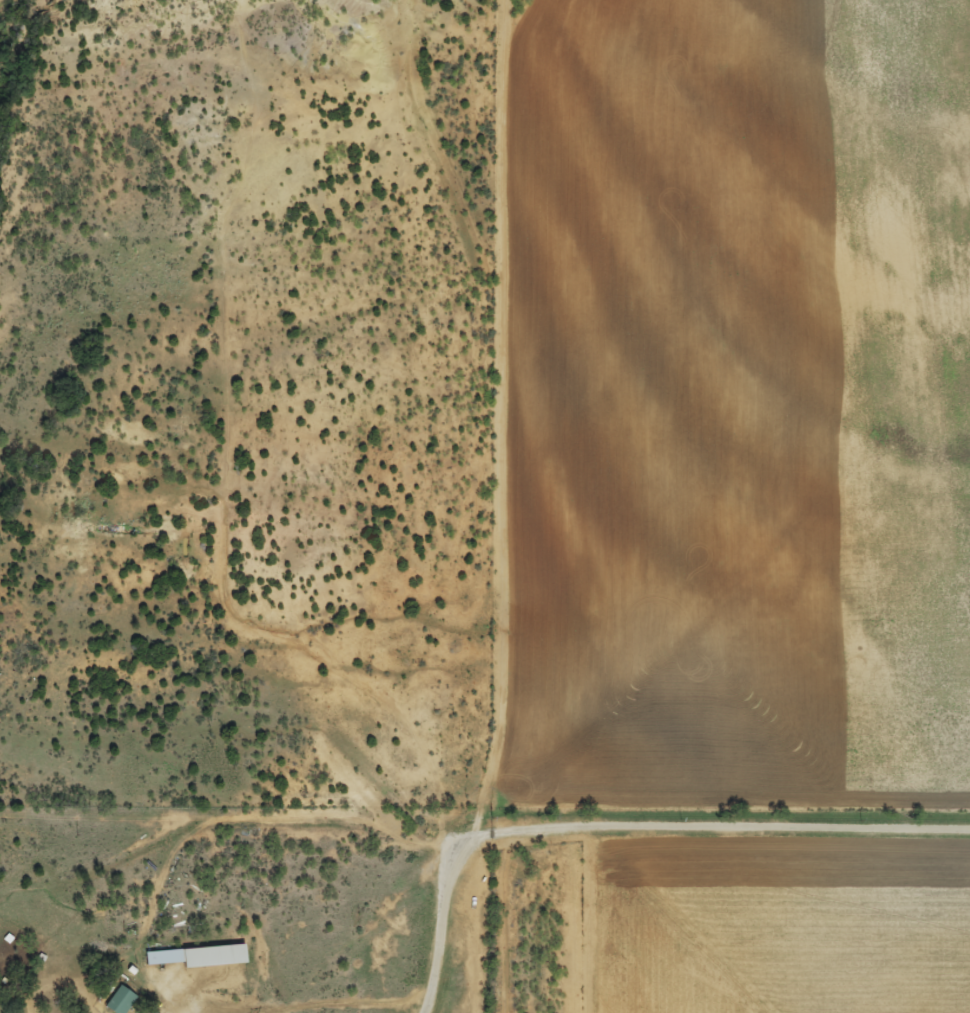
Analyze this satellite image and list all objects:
road: (477, 512)
road: (746, 837)
road: (441, 905)
building: (195, 956)
building: (118, 1001)

